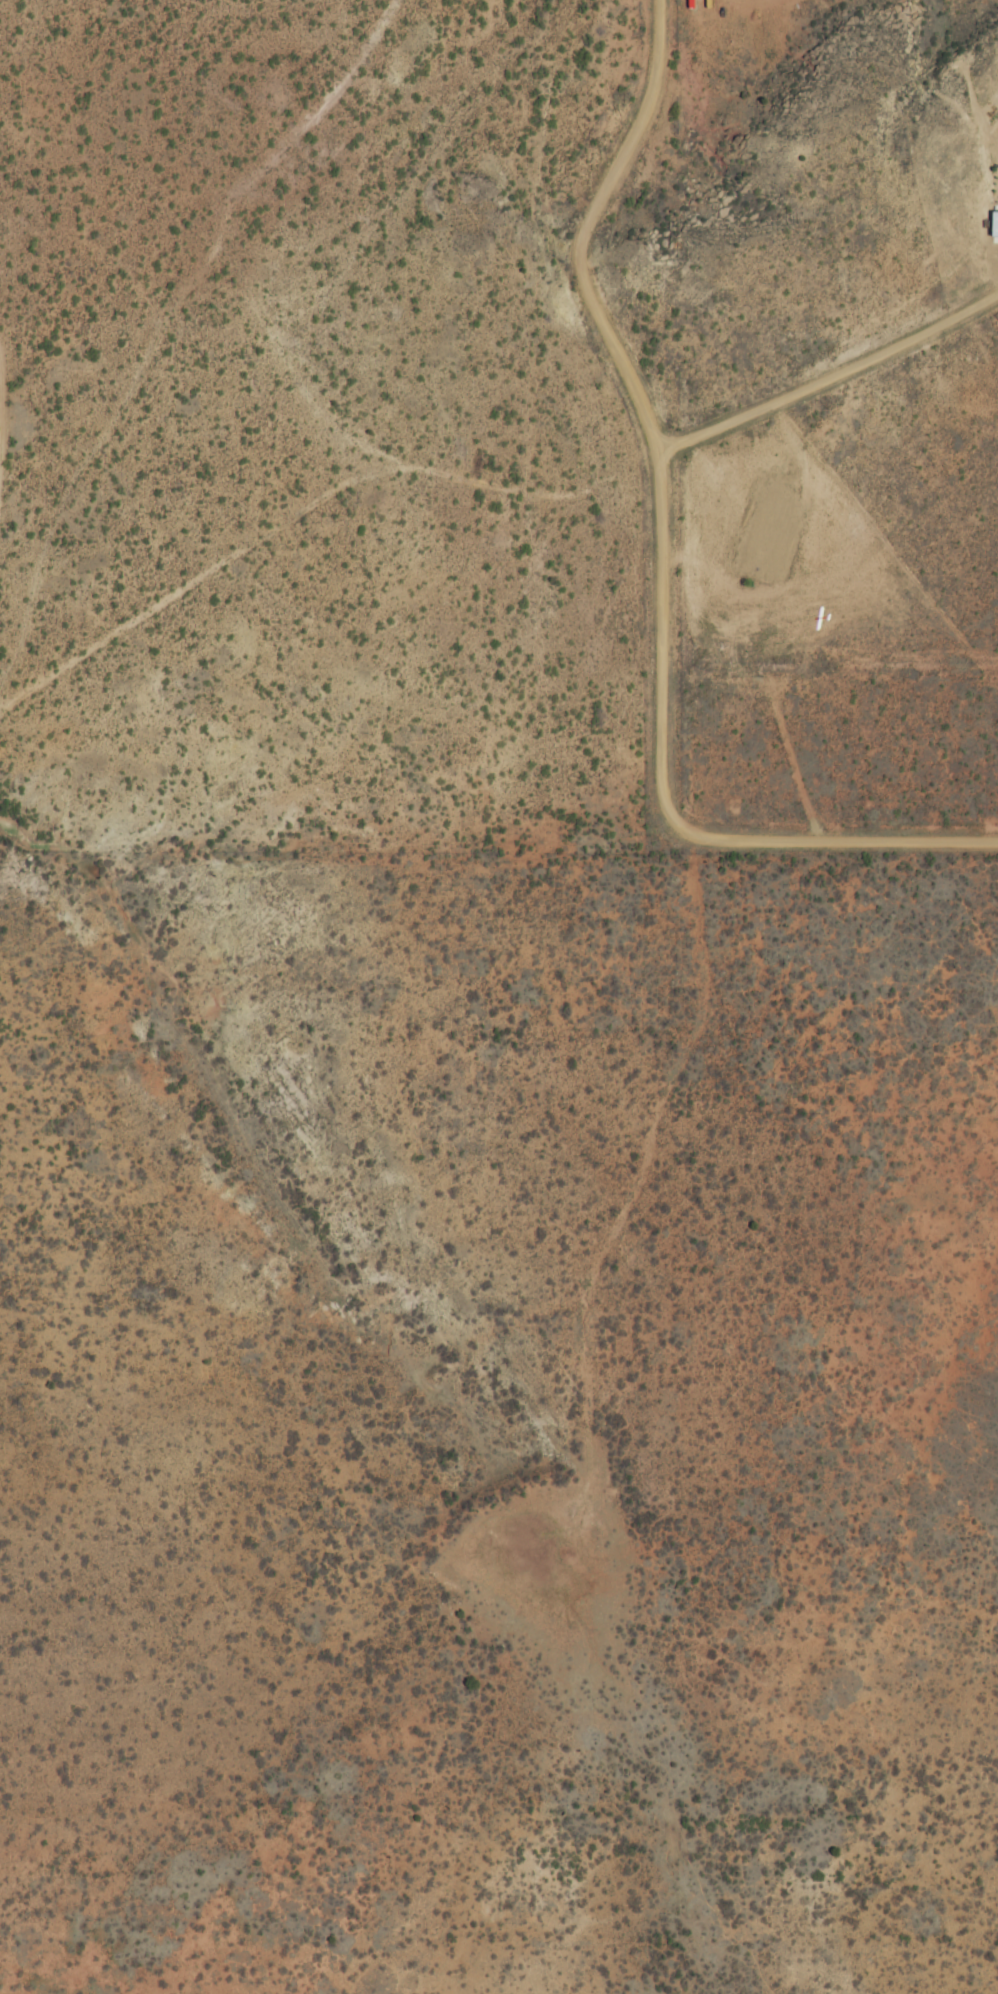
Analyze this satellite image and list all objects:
road: (590, 232)
road: (171, 328)
road: (831, 382)
road: (669, 807)

